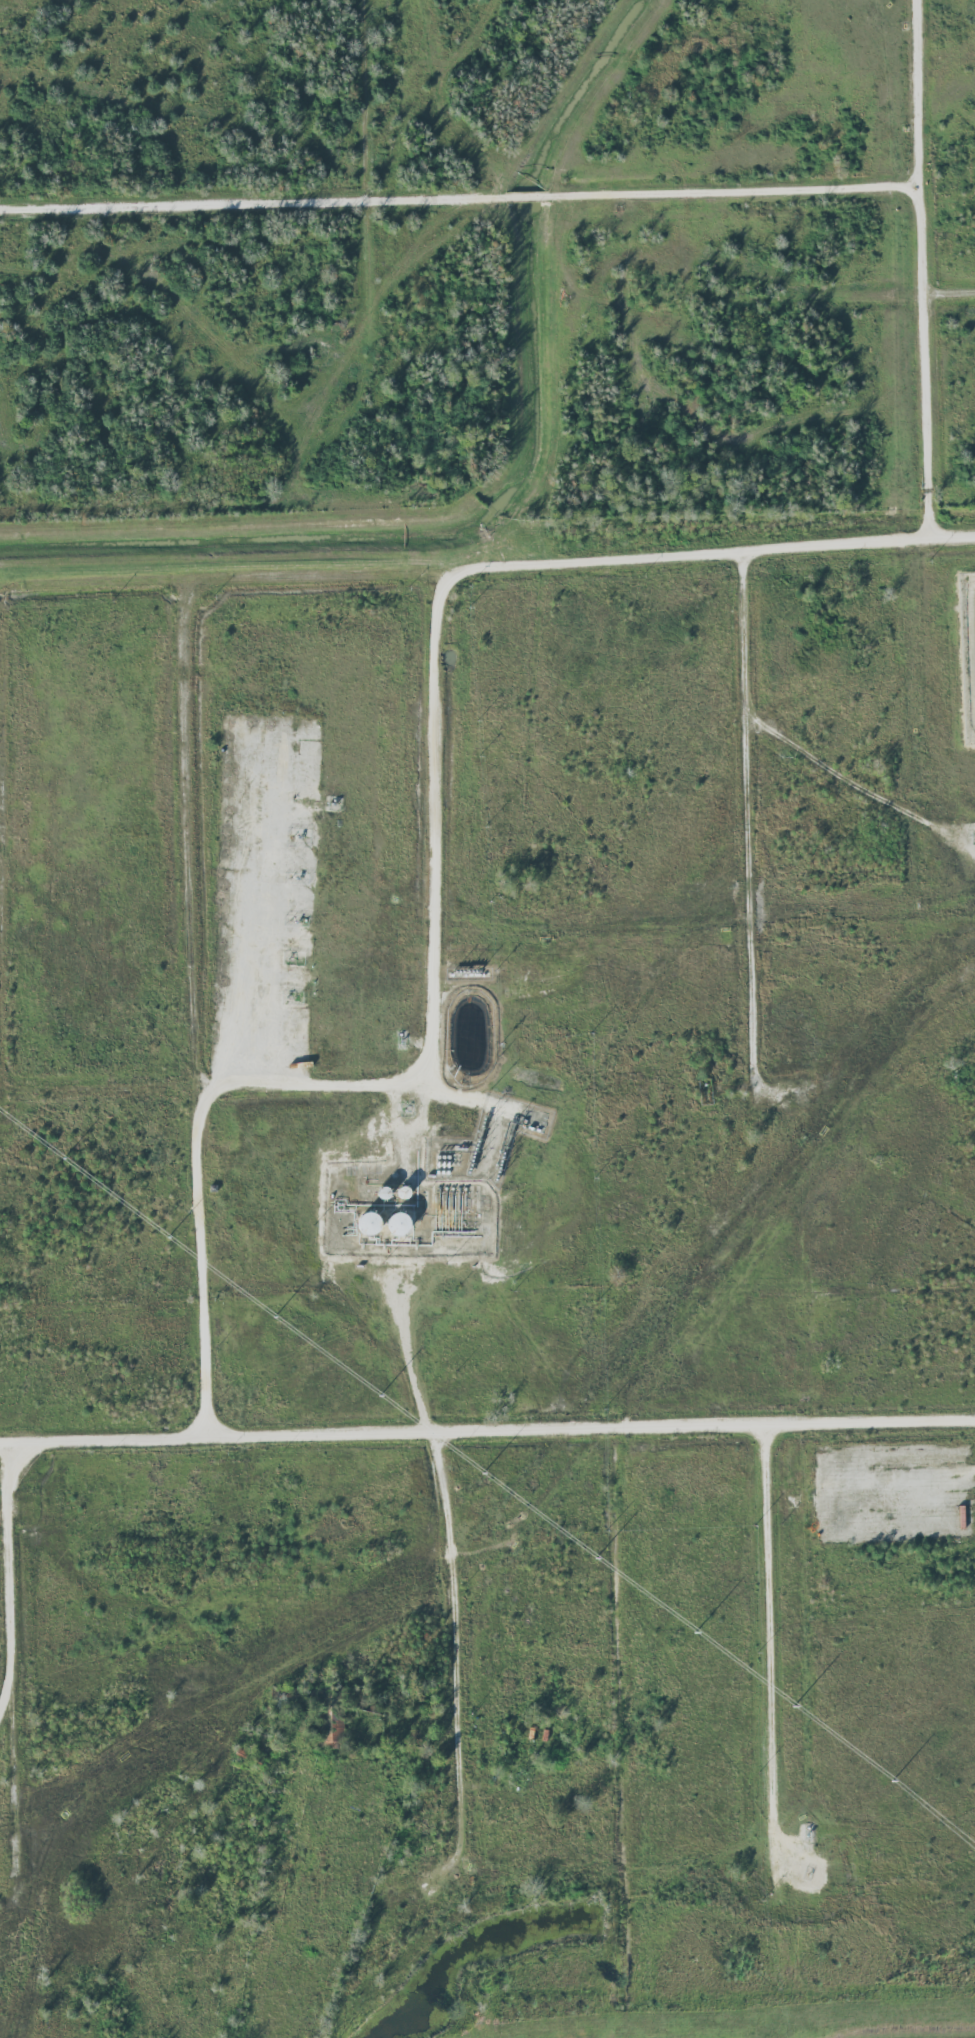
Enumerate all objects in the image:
road: (457, 202)
road: (917, 270)
road: (326, 574)
road: (434, 662)
road: (750, 846)
road: (192, 1001)
road: (409, 1350)
road: (487, 1428)
road: (7, 1575)
road: (451, 1617)
road: (769, 1636)

